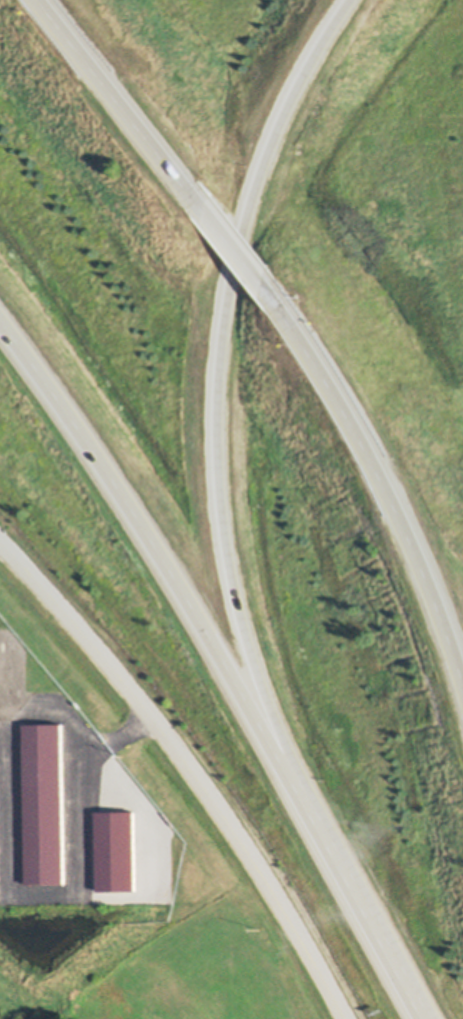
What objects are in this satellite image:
road: (129, 104)
road: (242, 248)
road: (224, 388)
road: (382, 465)
road: (158, 550)
road: (190, 767)
road: (79, 776)
building: (46, 802)
building: (118, 852)
road: (359, 906)

